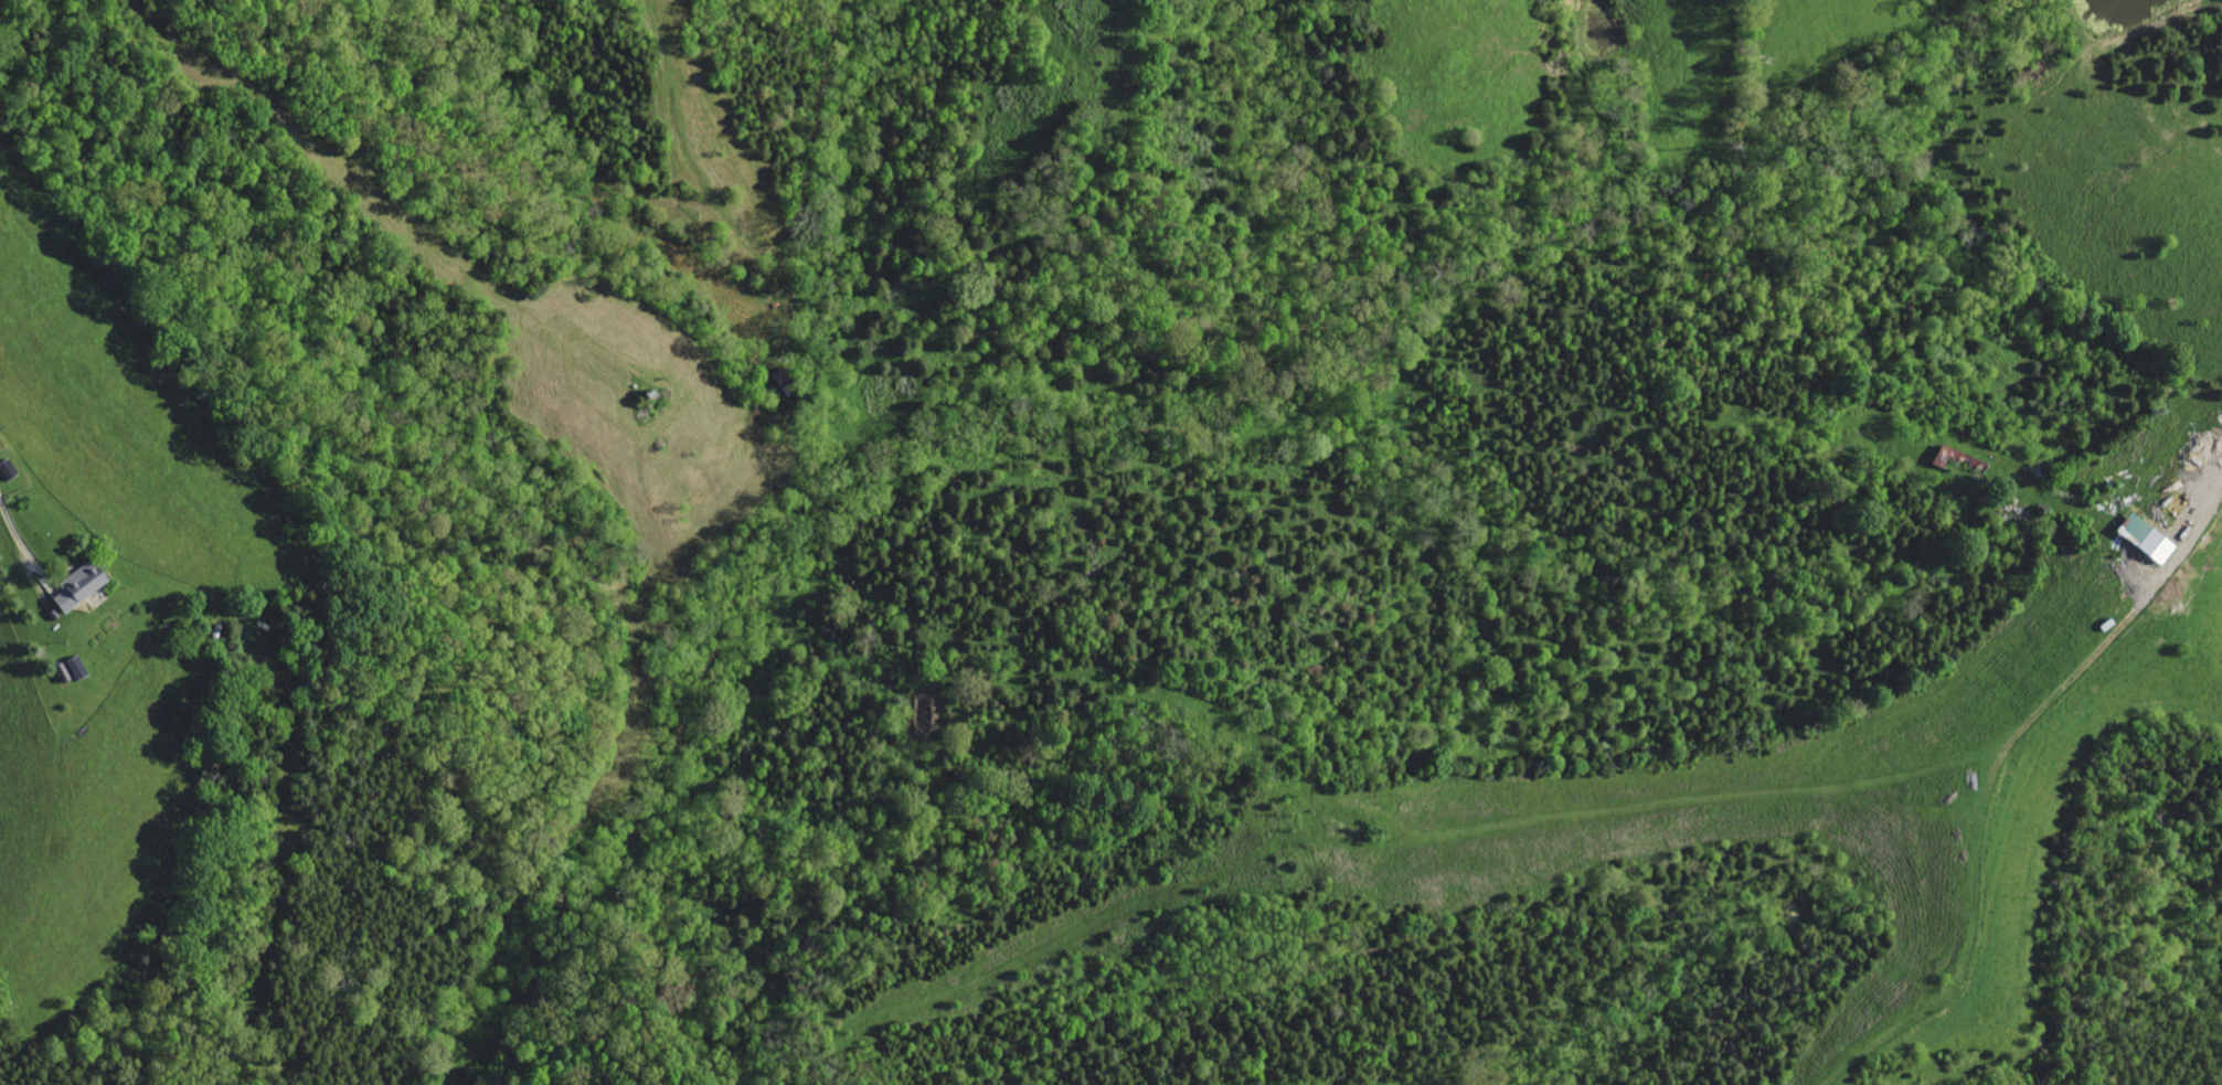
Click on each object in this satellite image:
building: (1959, 459)
road: (10, 524)
road: (2196, 532)
building: (2158, 546)
building: (83, 585)

